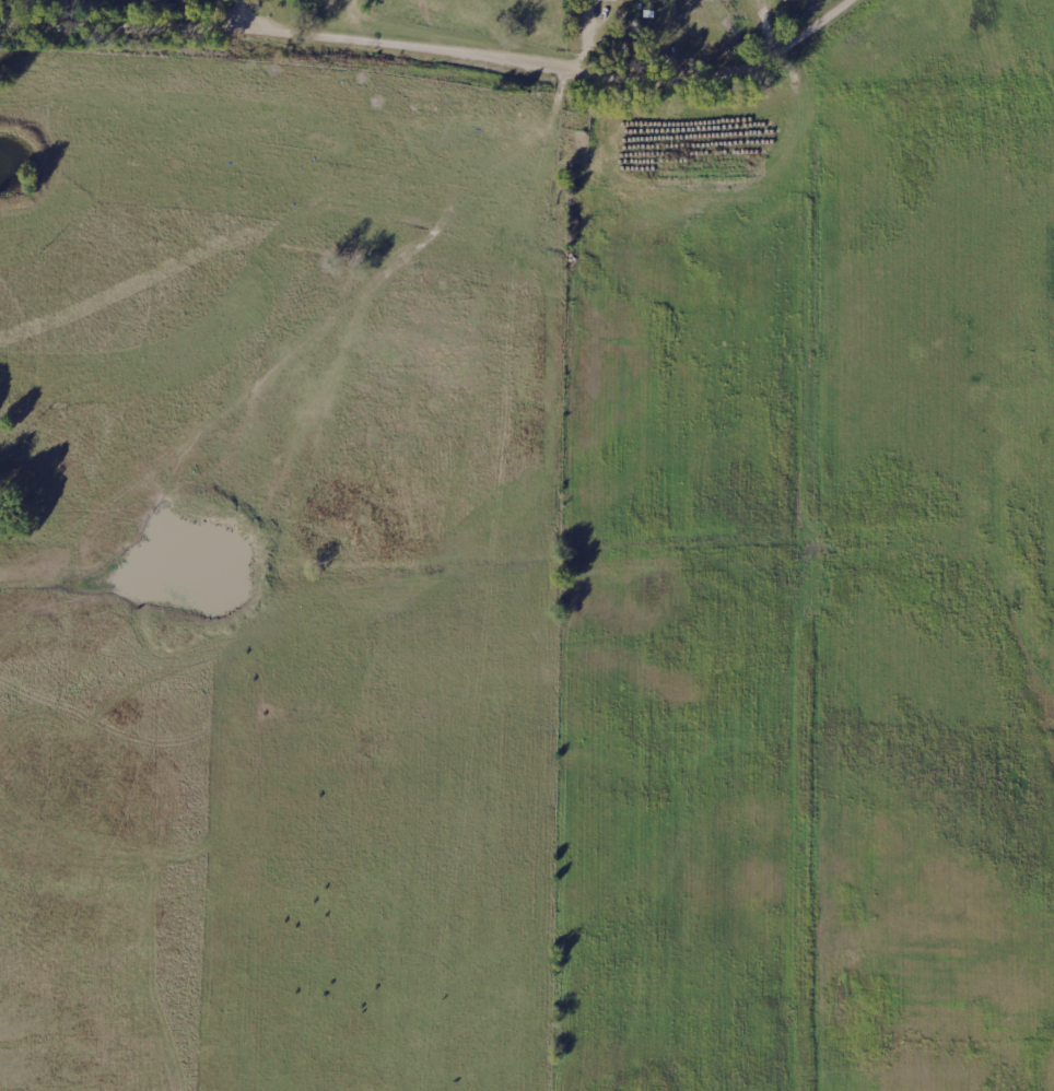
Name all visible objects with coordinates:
road: (257, 15)
road: (812, 32)
road: (385, 45)

